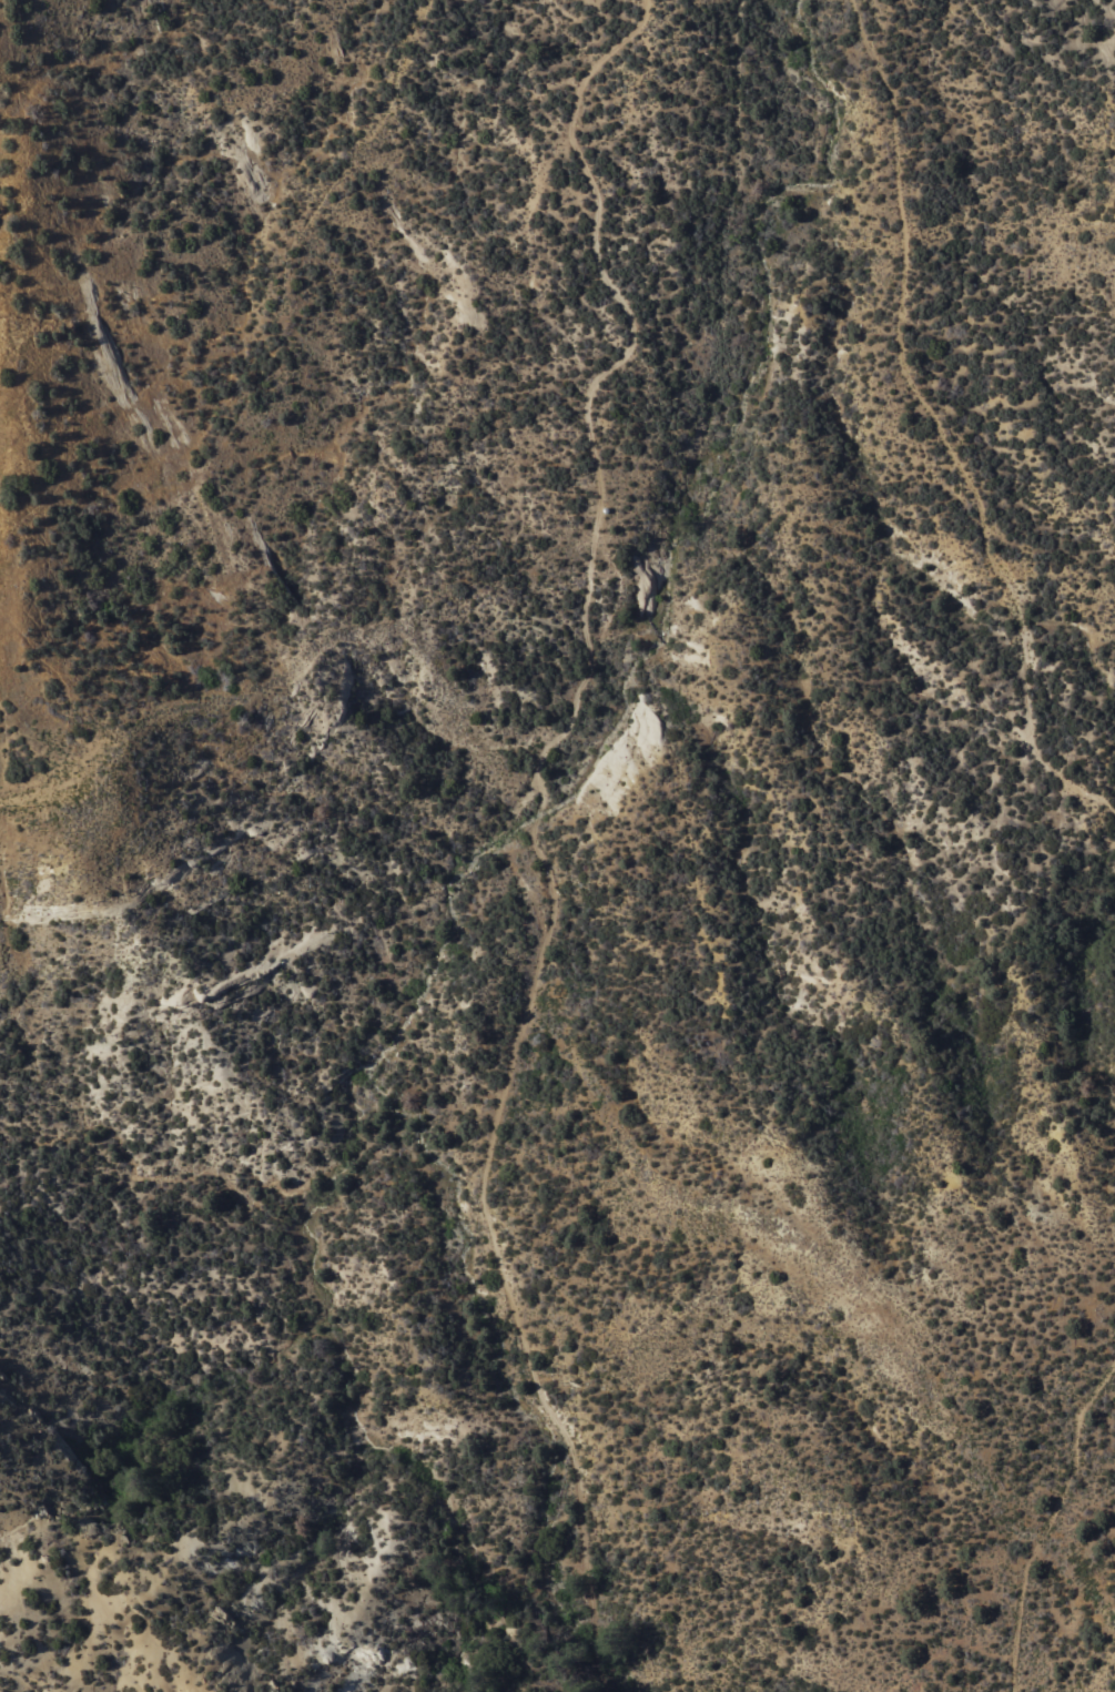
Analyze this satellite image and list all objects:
road: (734, 59)
road: (596, 386)
road: (2, 612)
road: (270, 685)
road: (678, 1185)
road: (1044, 1516)
road: (1076, 1570)

